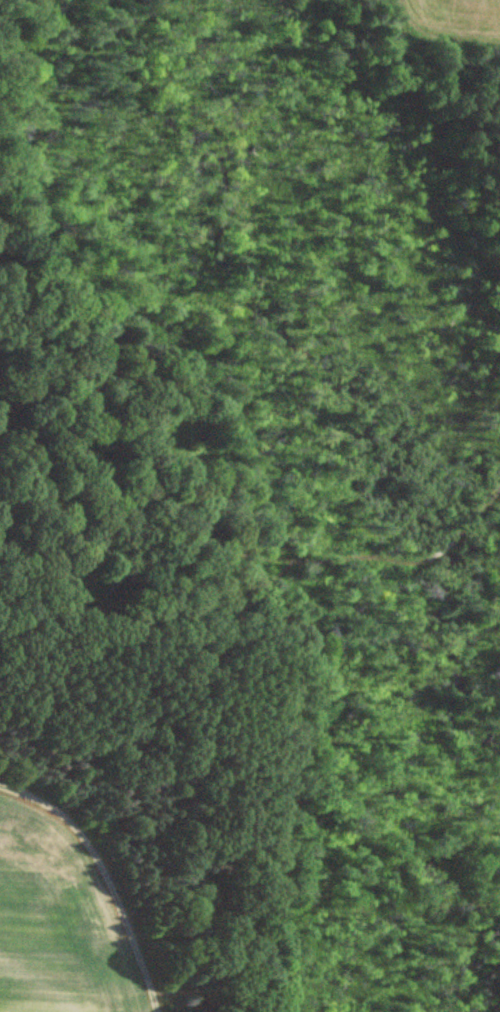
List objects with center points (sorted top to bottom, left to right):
road: (120, 857)

